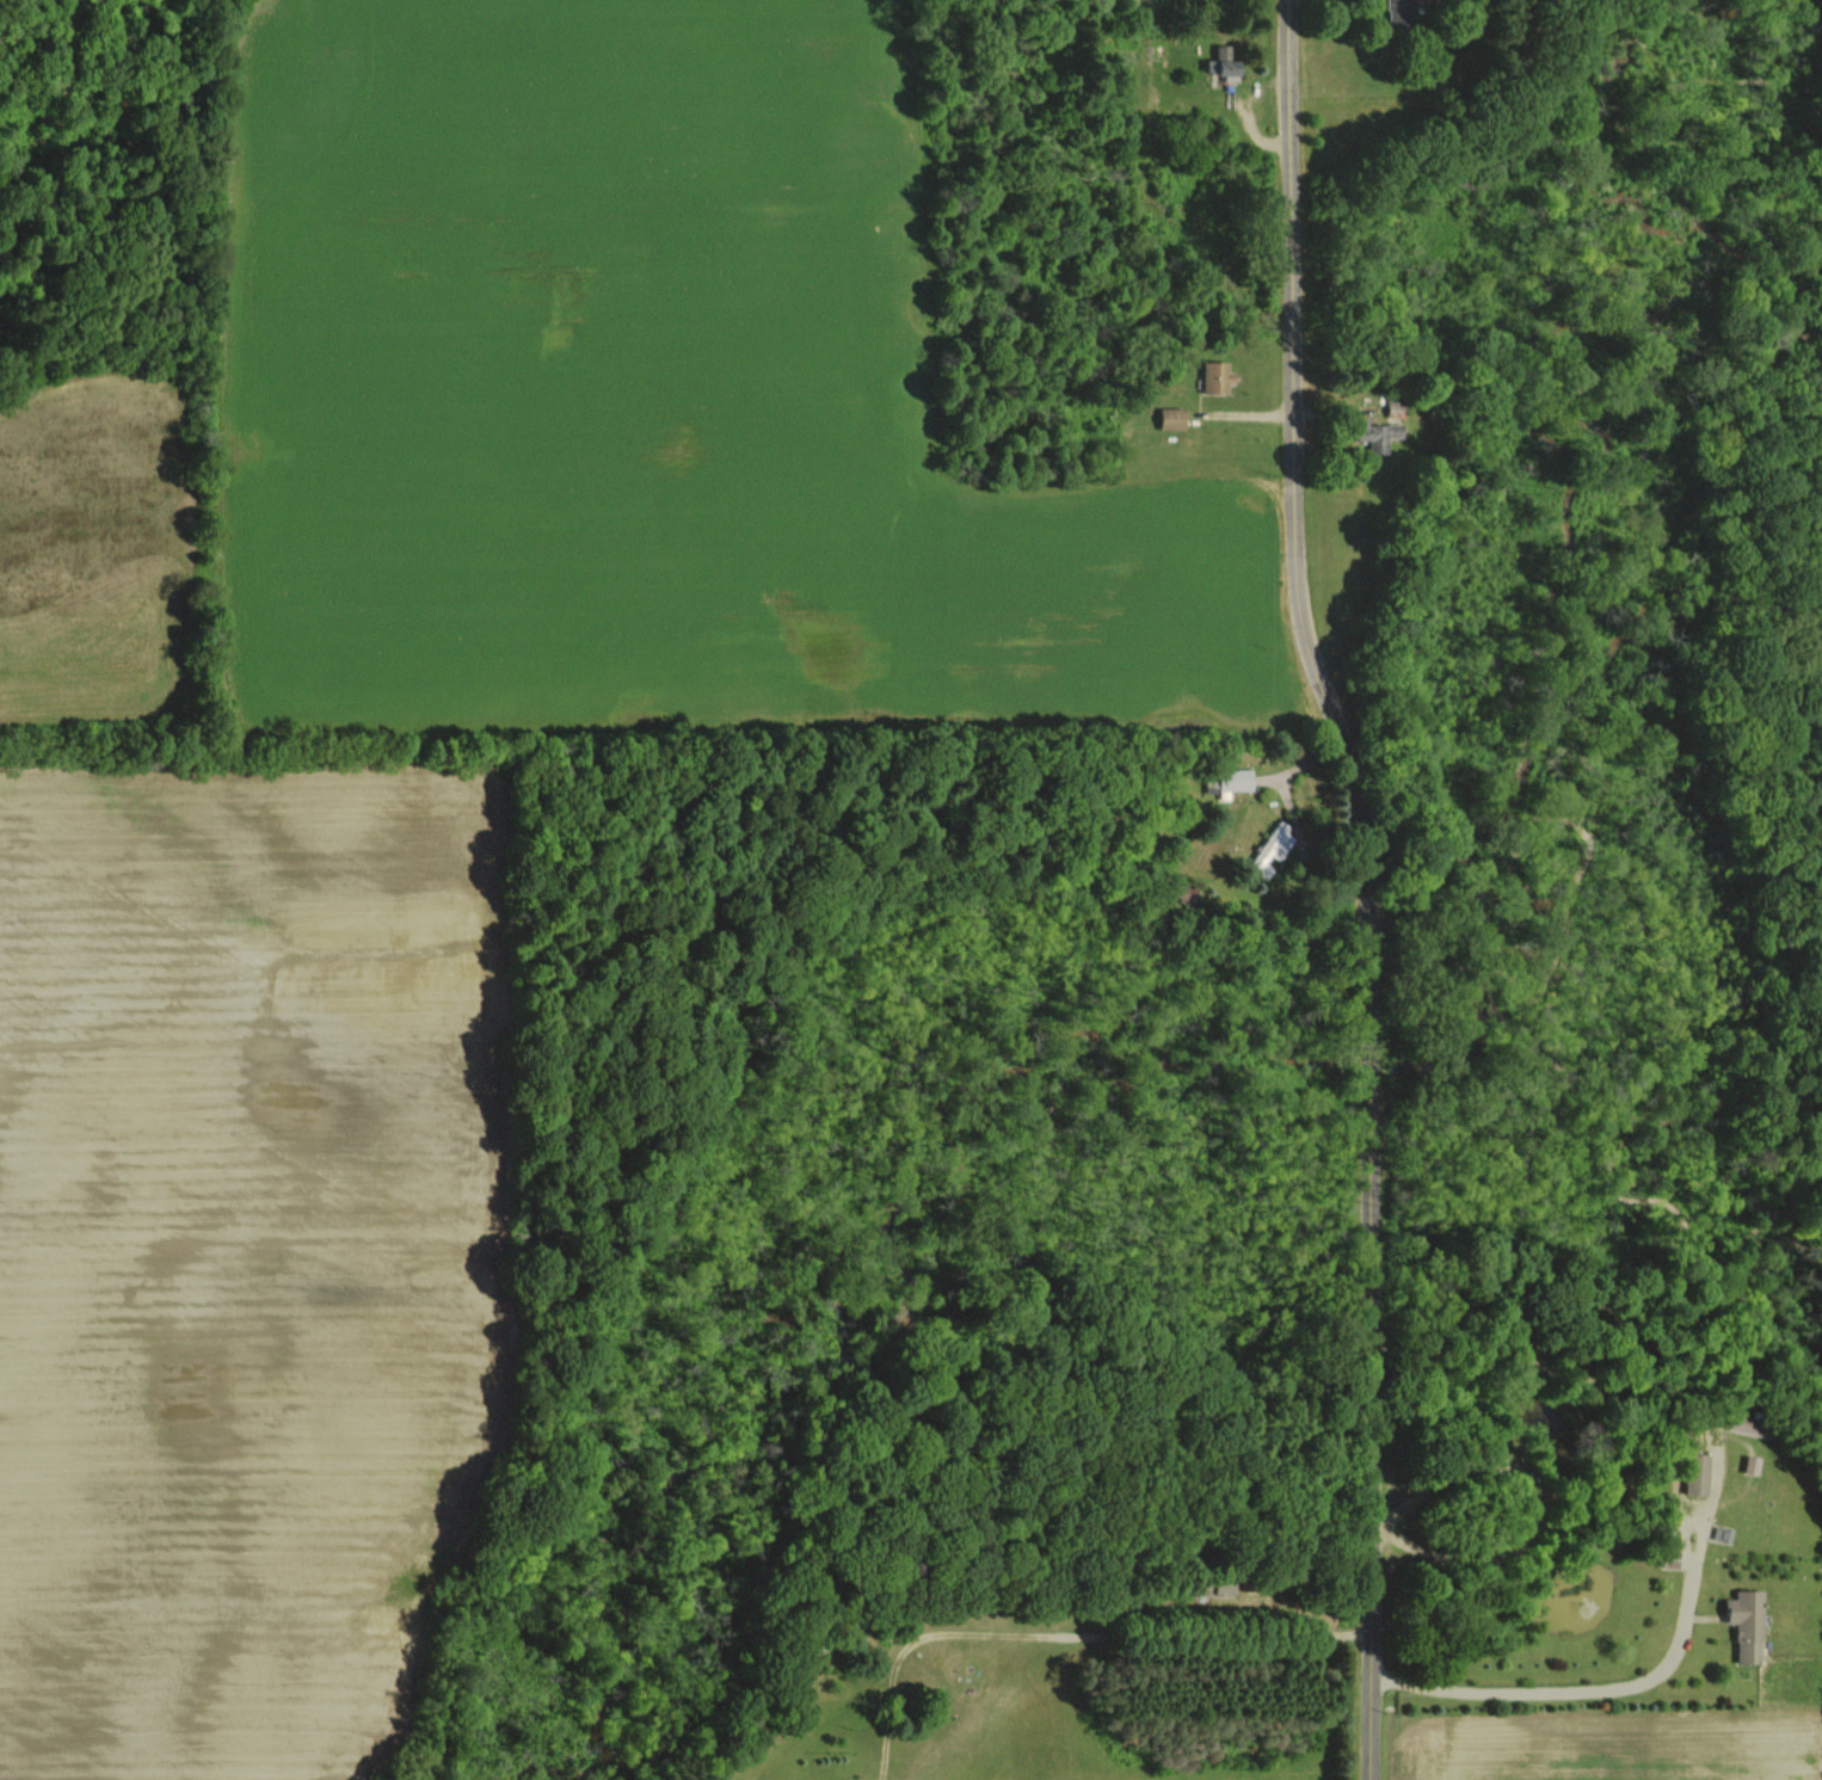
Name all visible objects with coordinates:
building: (1399, 12)
building: (1224, 62)
building: (1217, 377)
building: (1174, 418)
building: (1378, 436)
building: (1226, 782)
road: (1366, 883)
crop: (246, 1258)
building: (1698, 1473)
building: (1221, 1585)
building: (1748, 1624)
road: (1073, 1636)
road: (1620, 1681)

